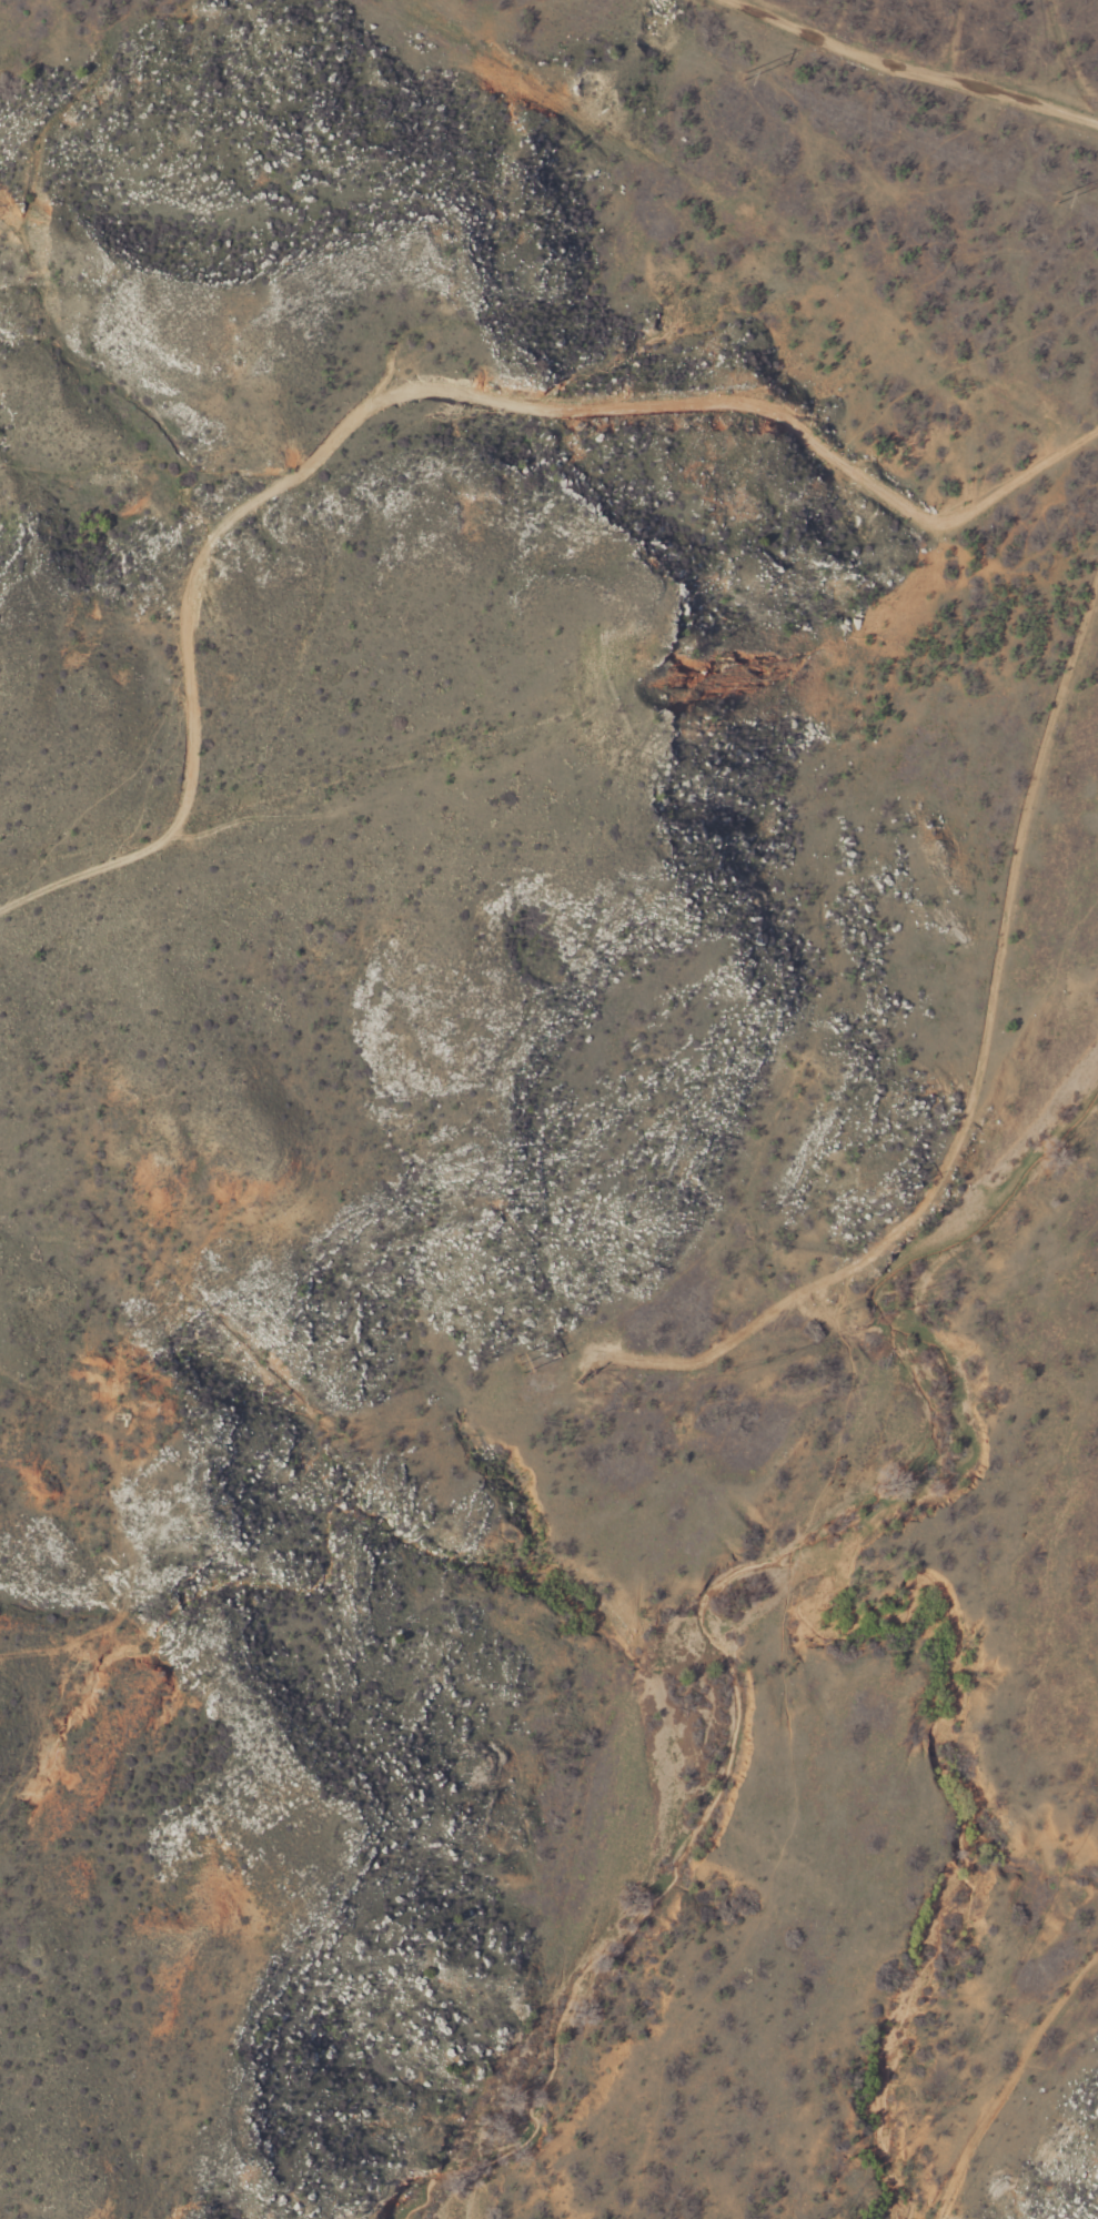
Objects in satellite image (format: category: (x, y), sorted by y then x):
power tower: (744, 78)
power tower: (1057, 201)
power tower: (885, 1192)
power tower: (518, 1364)
power tower: (194, 1519)
road: (1004, 2059)

